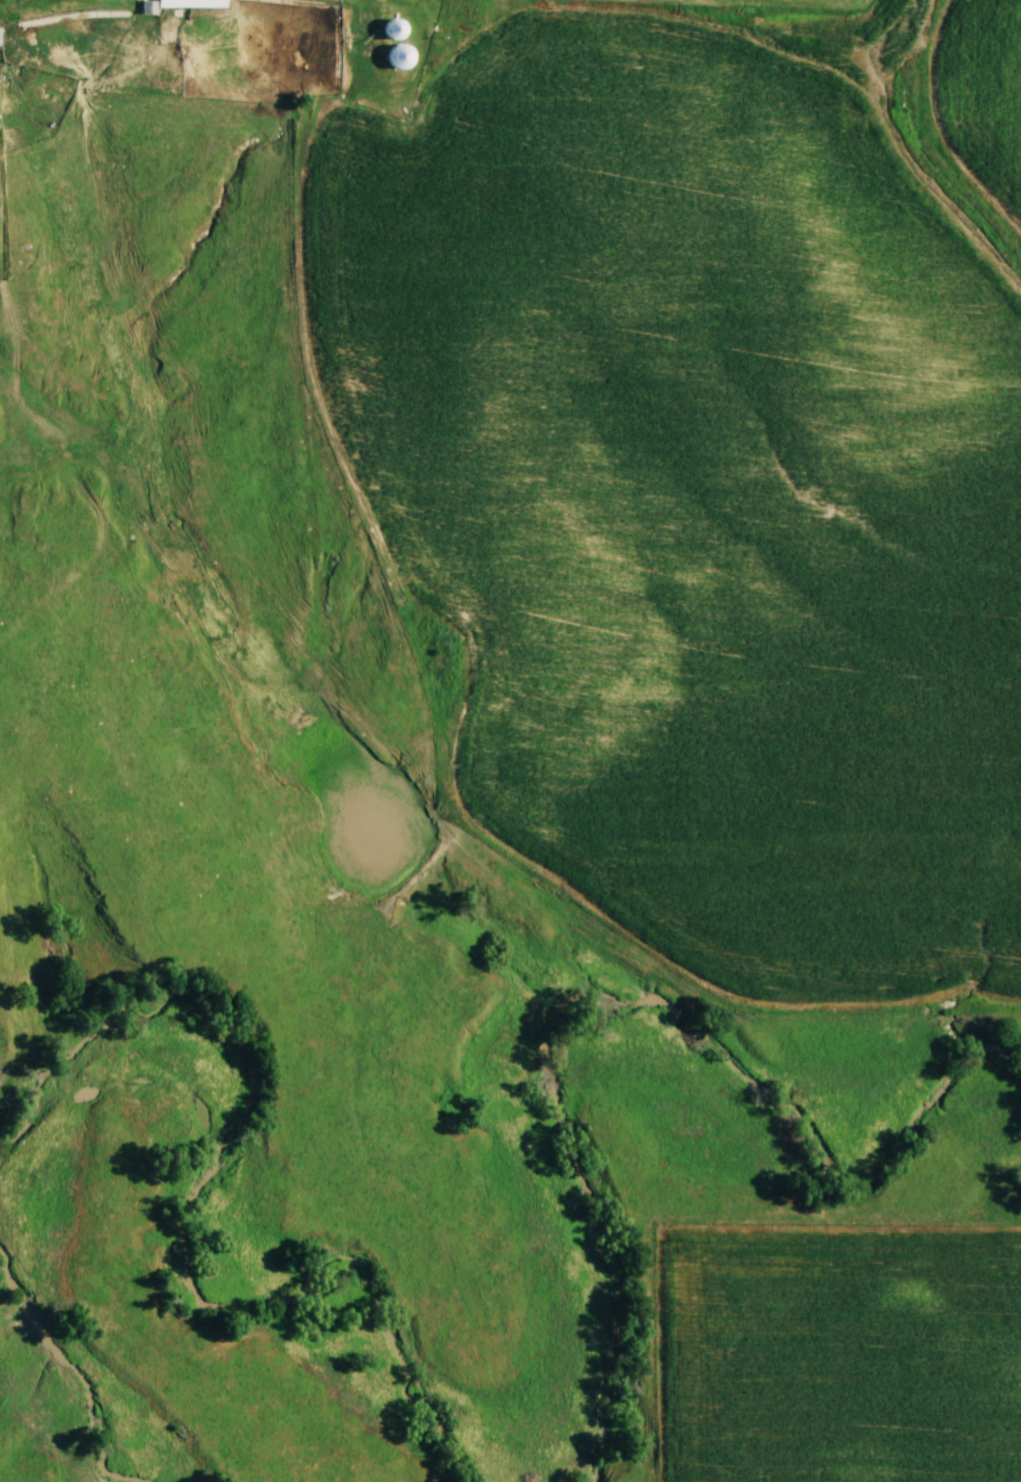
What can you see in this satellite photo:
building: (183, 5)
building: (398, 29)
building: (402, 57)
river: (610, 997)
river: (215, 1196)
river: (92, 1364)

